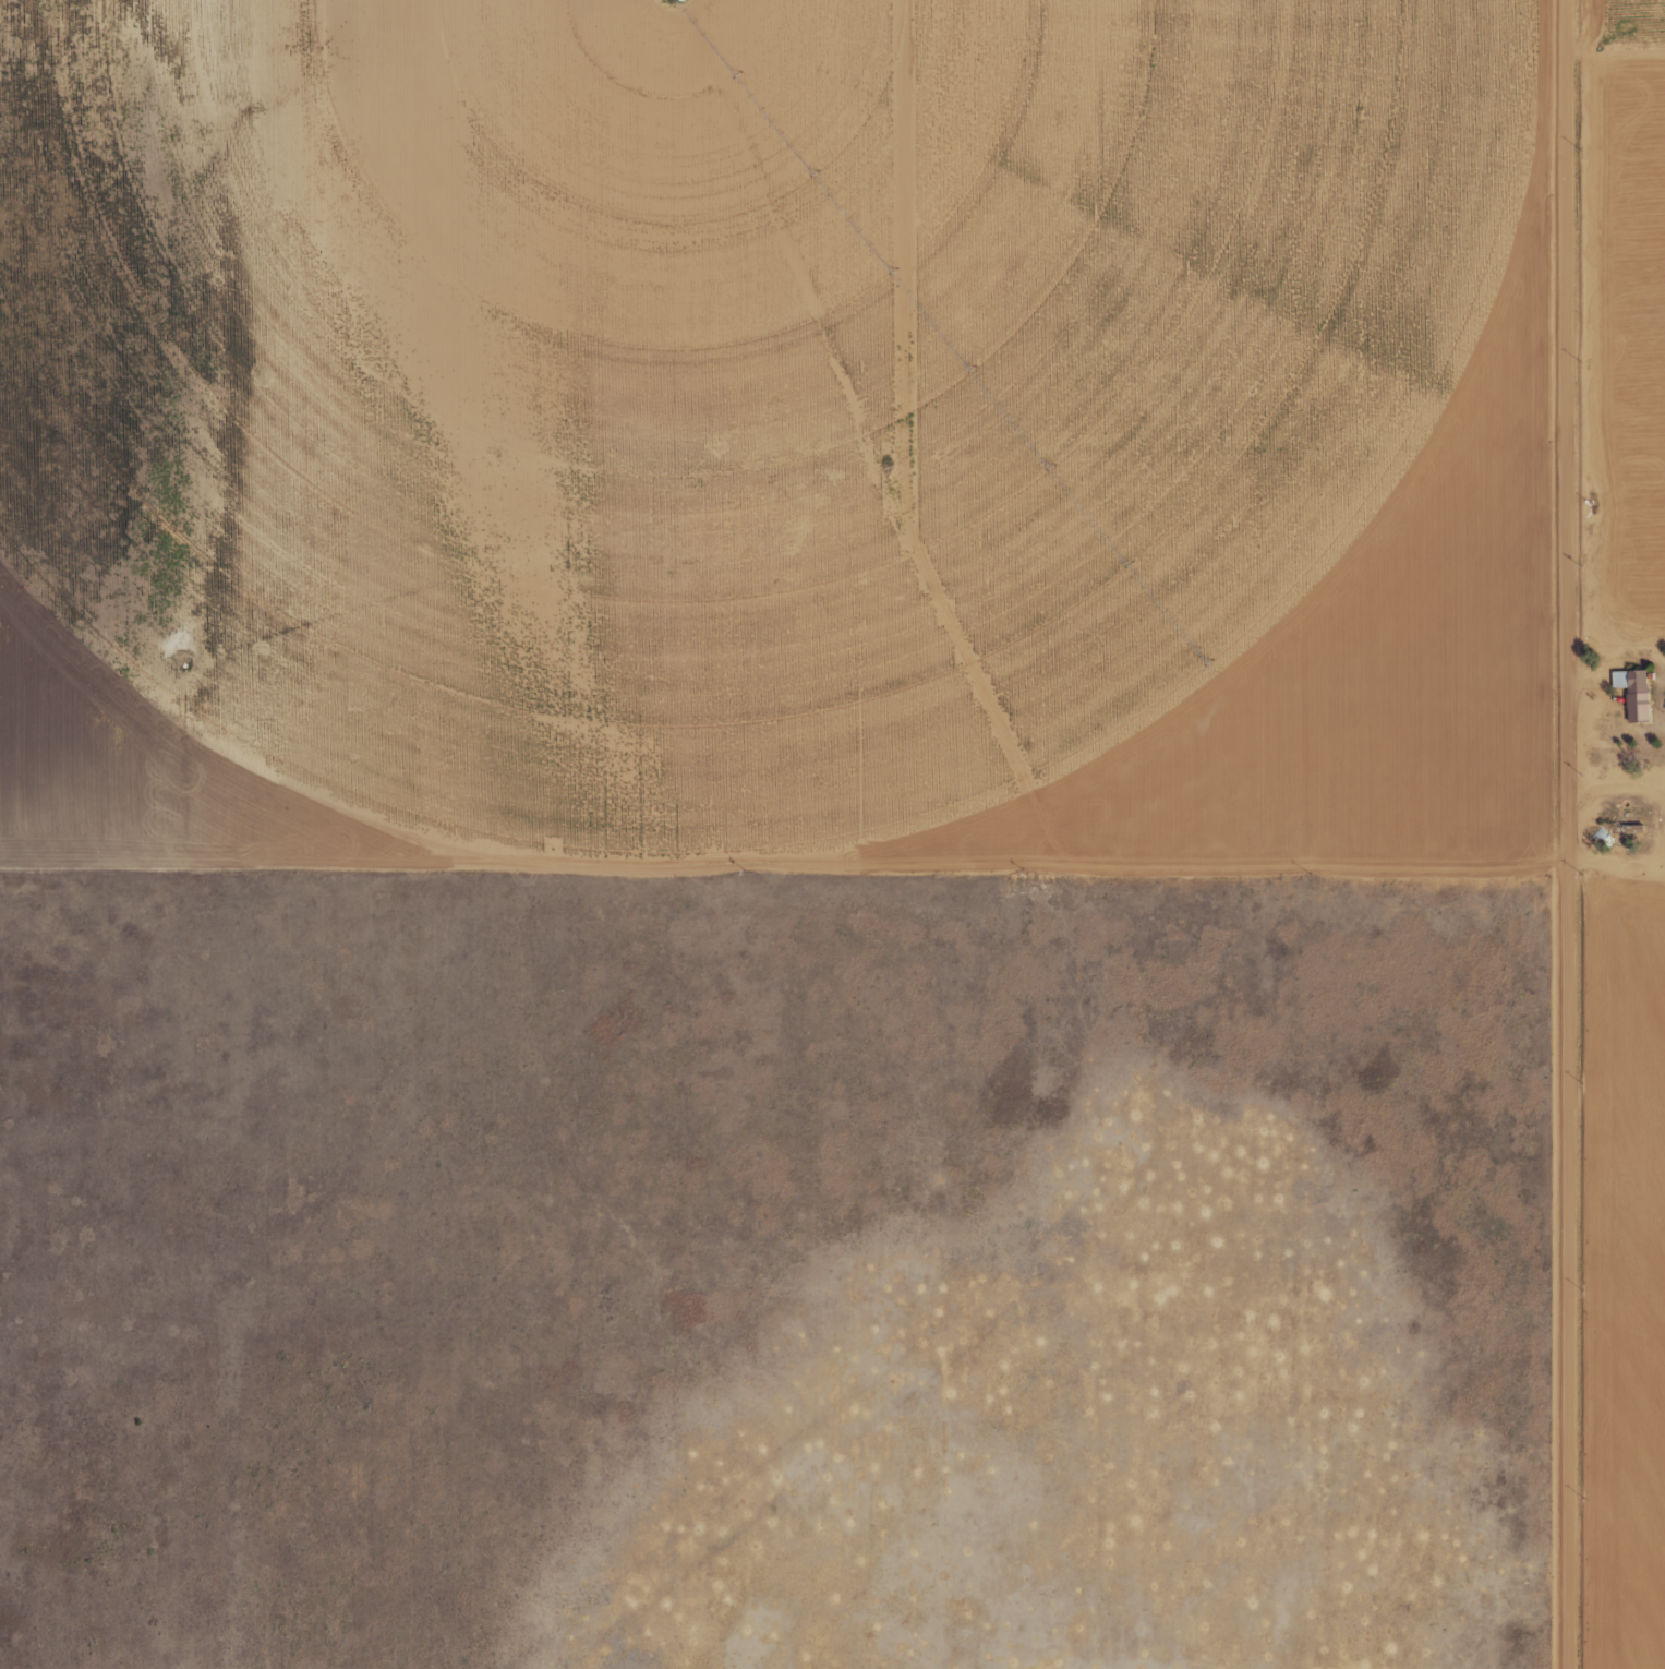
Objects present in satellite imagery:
building: (1636, 693)
road: (1586, 834)
building: (1626, 834)

